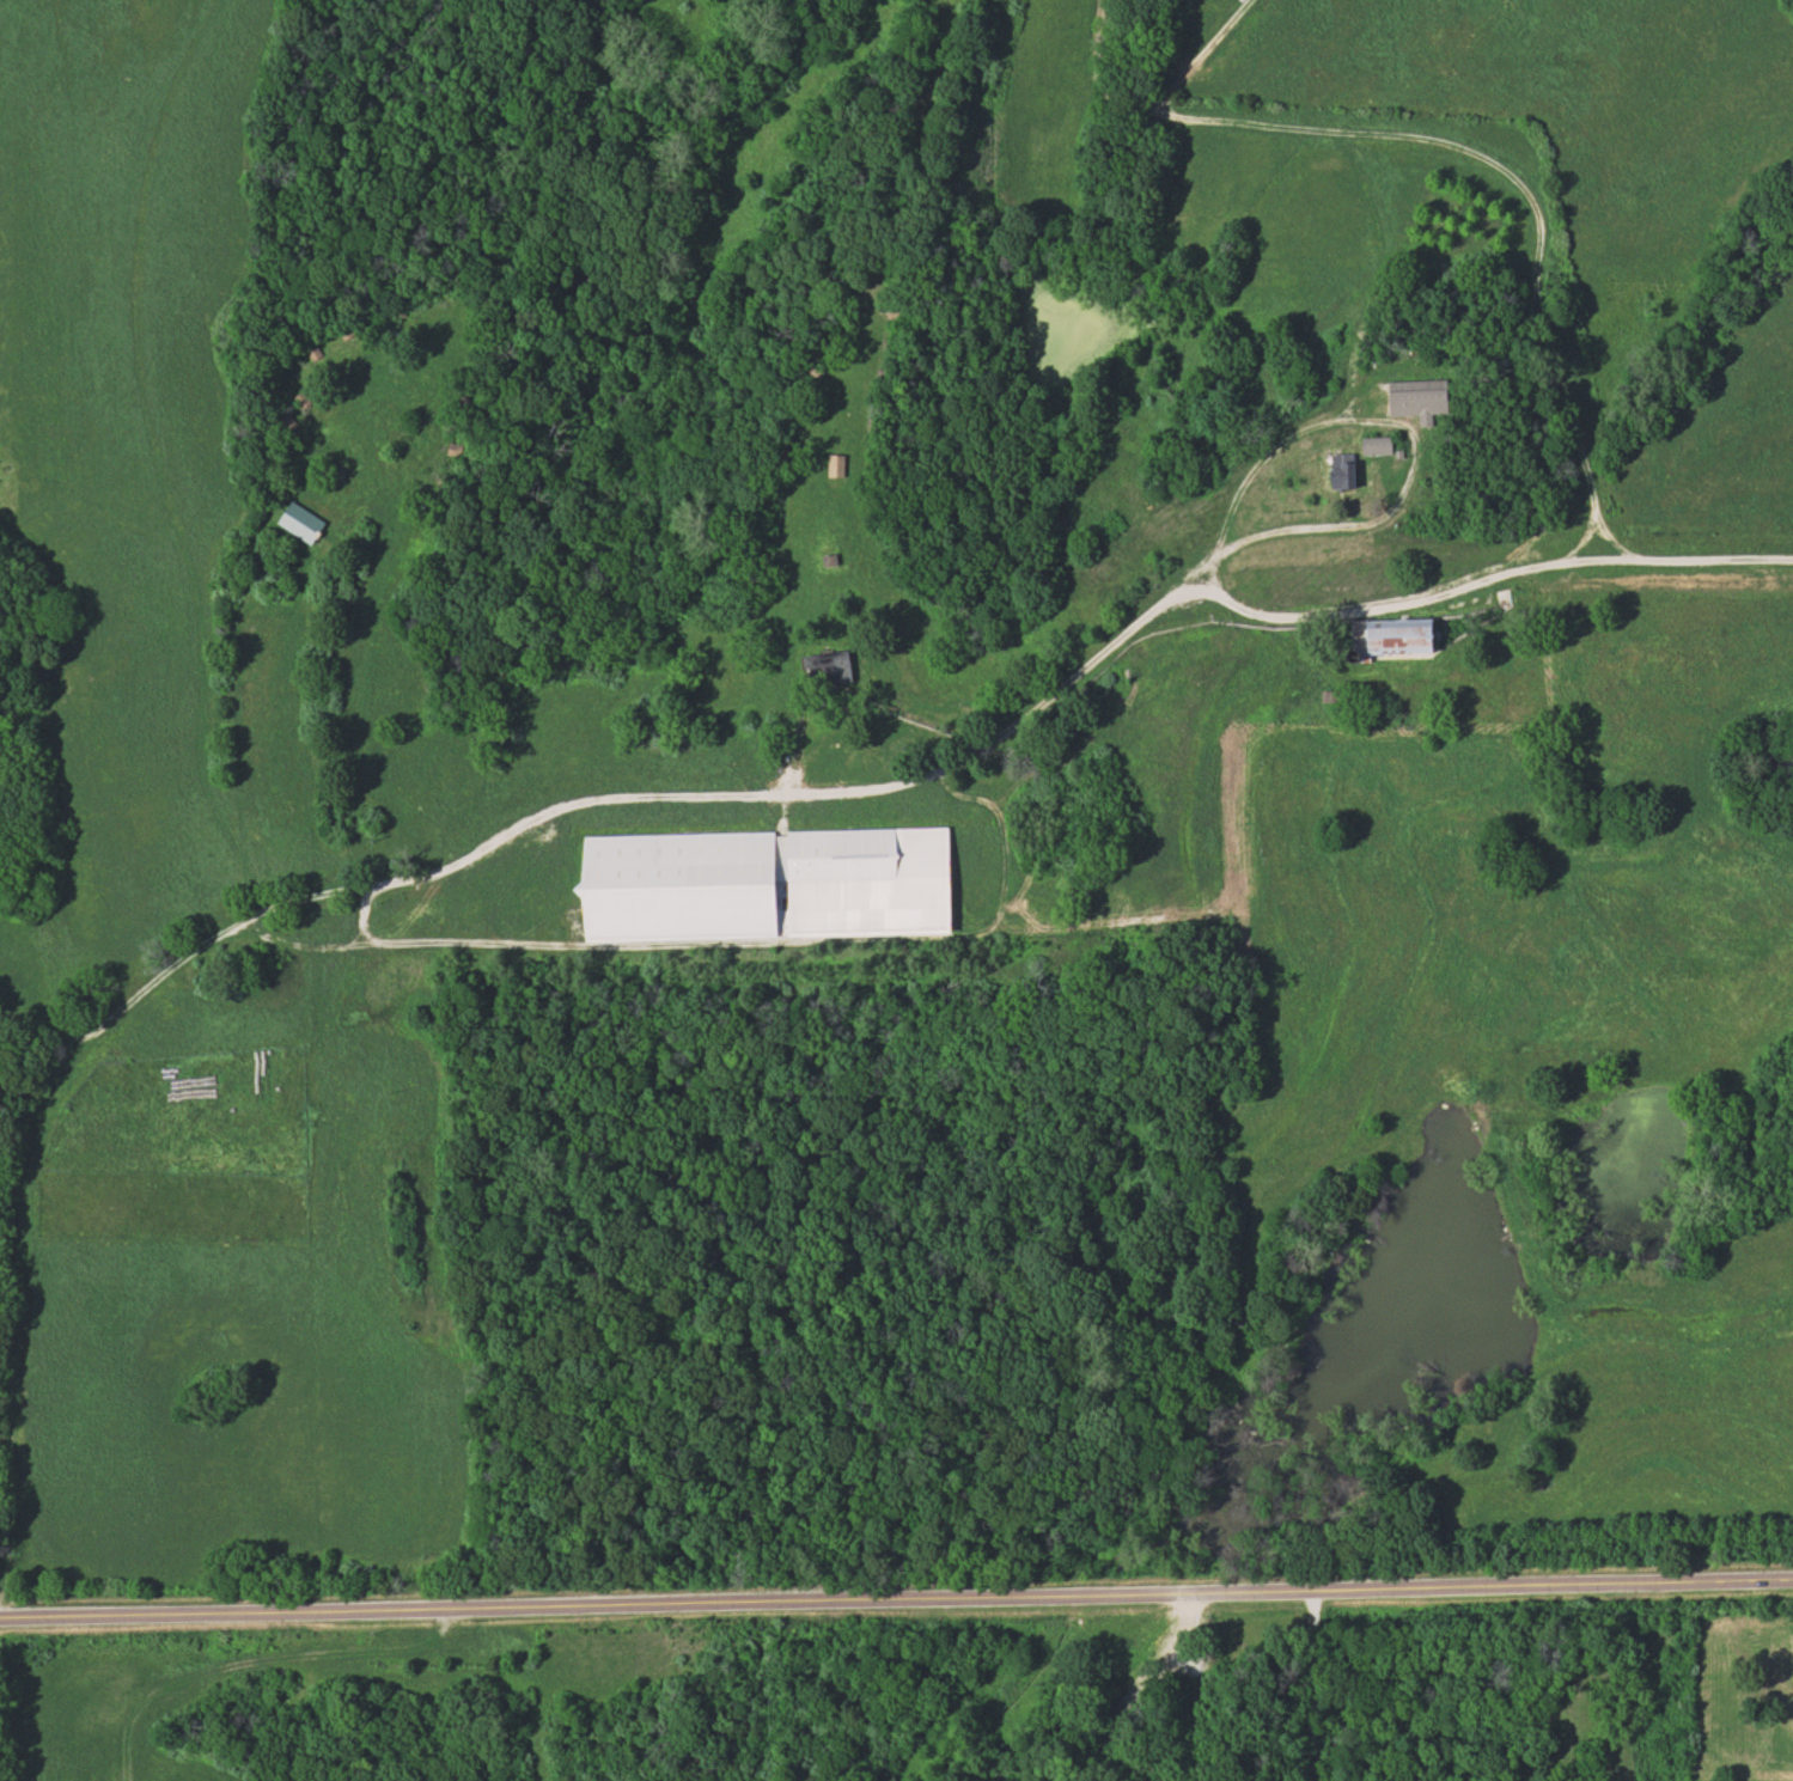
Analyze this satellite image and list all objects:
road: (1202, 60)
road: (1170, 61)
road: (1472, 148)
road: (1382, 266)
building: (1414, 396)
road: (1425, 439)
building: (1373, 445)
building: (833, 466)
building: (1338, 476)
building: (298, 523)
building: (1388, 638)
road: (862, 699)
road: (240, 748)
road: (901, 770)
building: (761, 884)
road: (16, 1303)
road: (896, 1594)
road: (1151, 1685)

